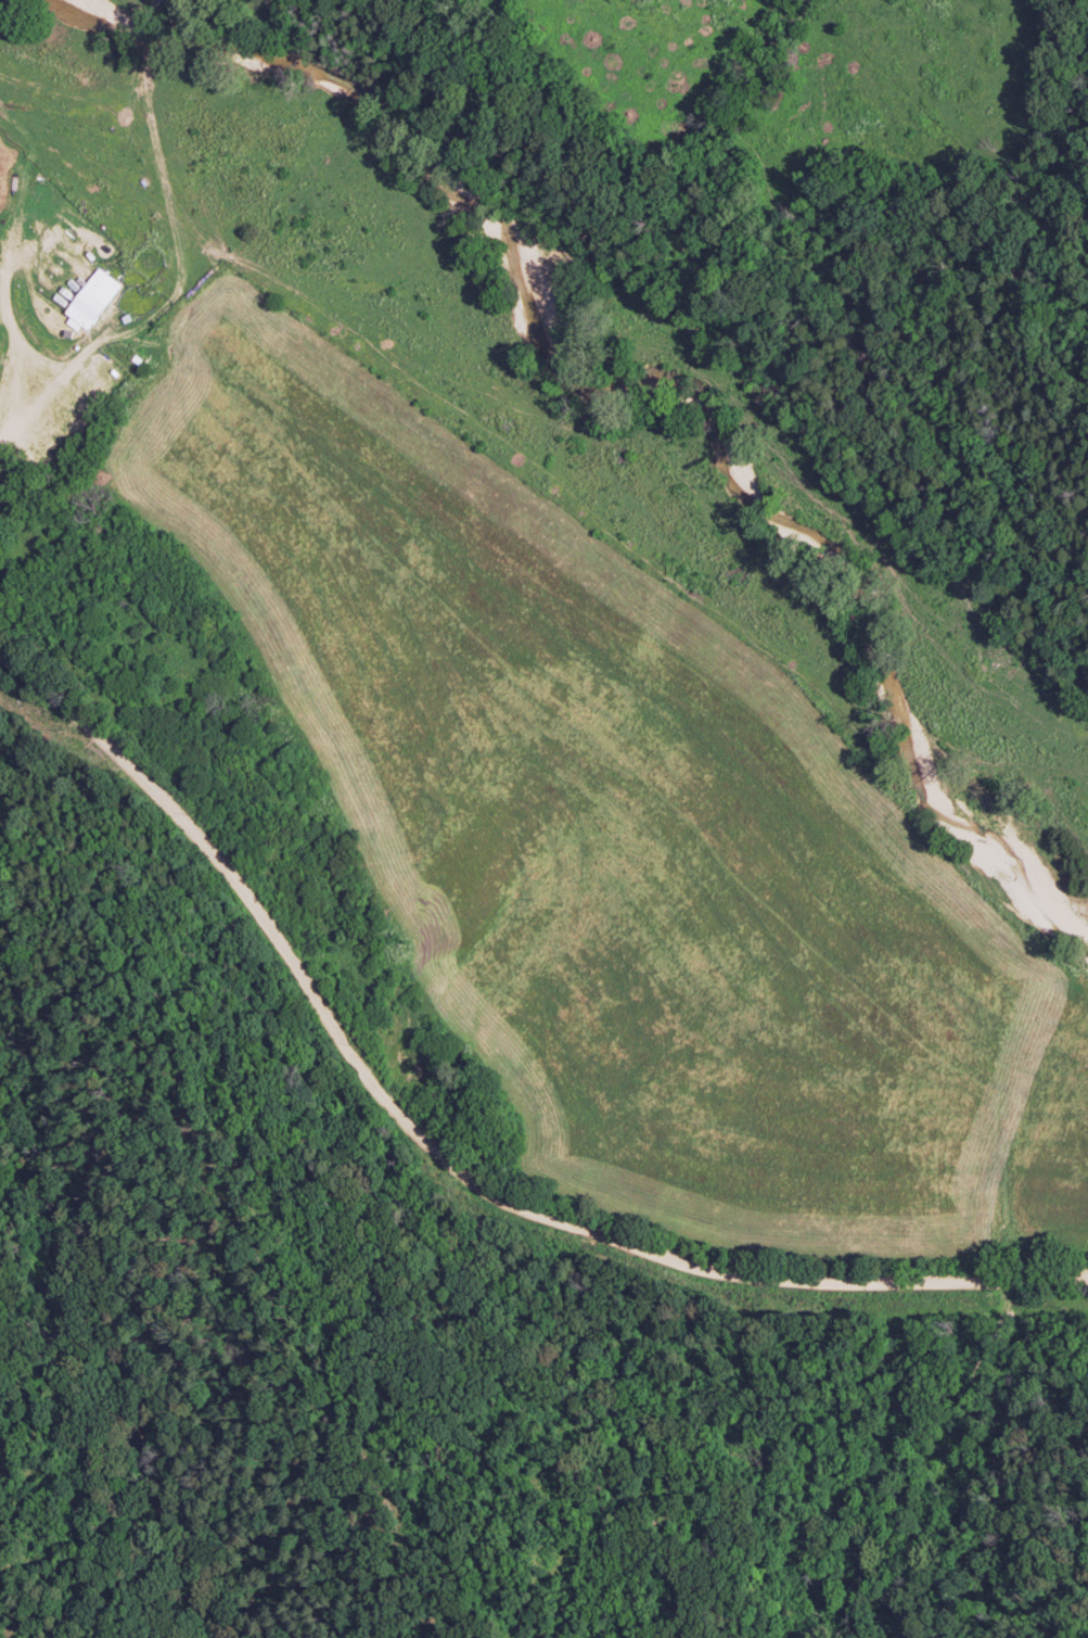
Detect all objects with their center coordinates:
building: (90, 301)
road: (445, 1126)
road: (1085, 1628)

